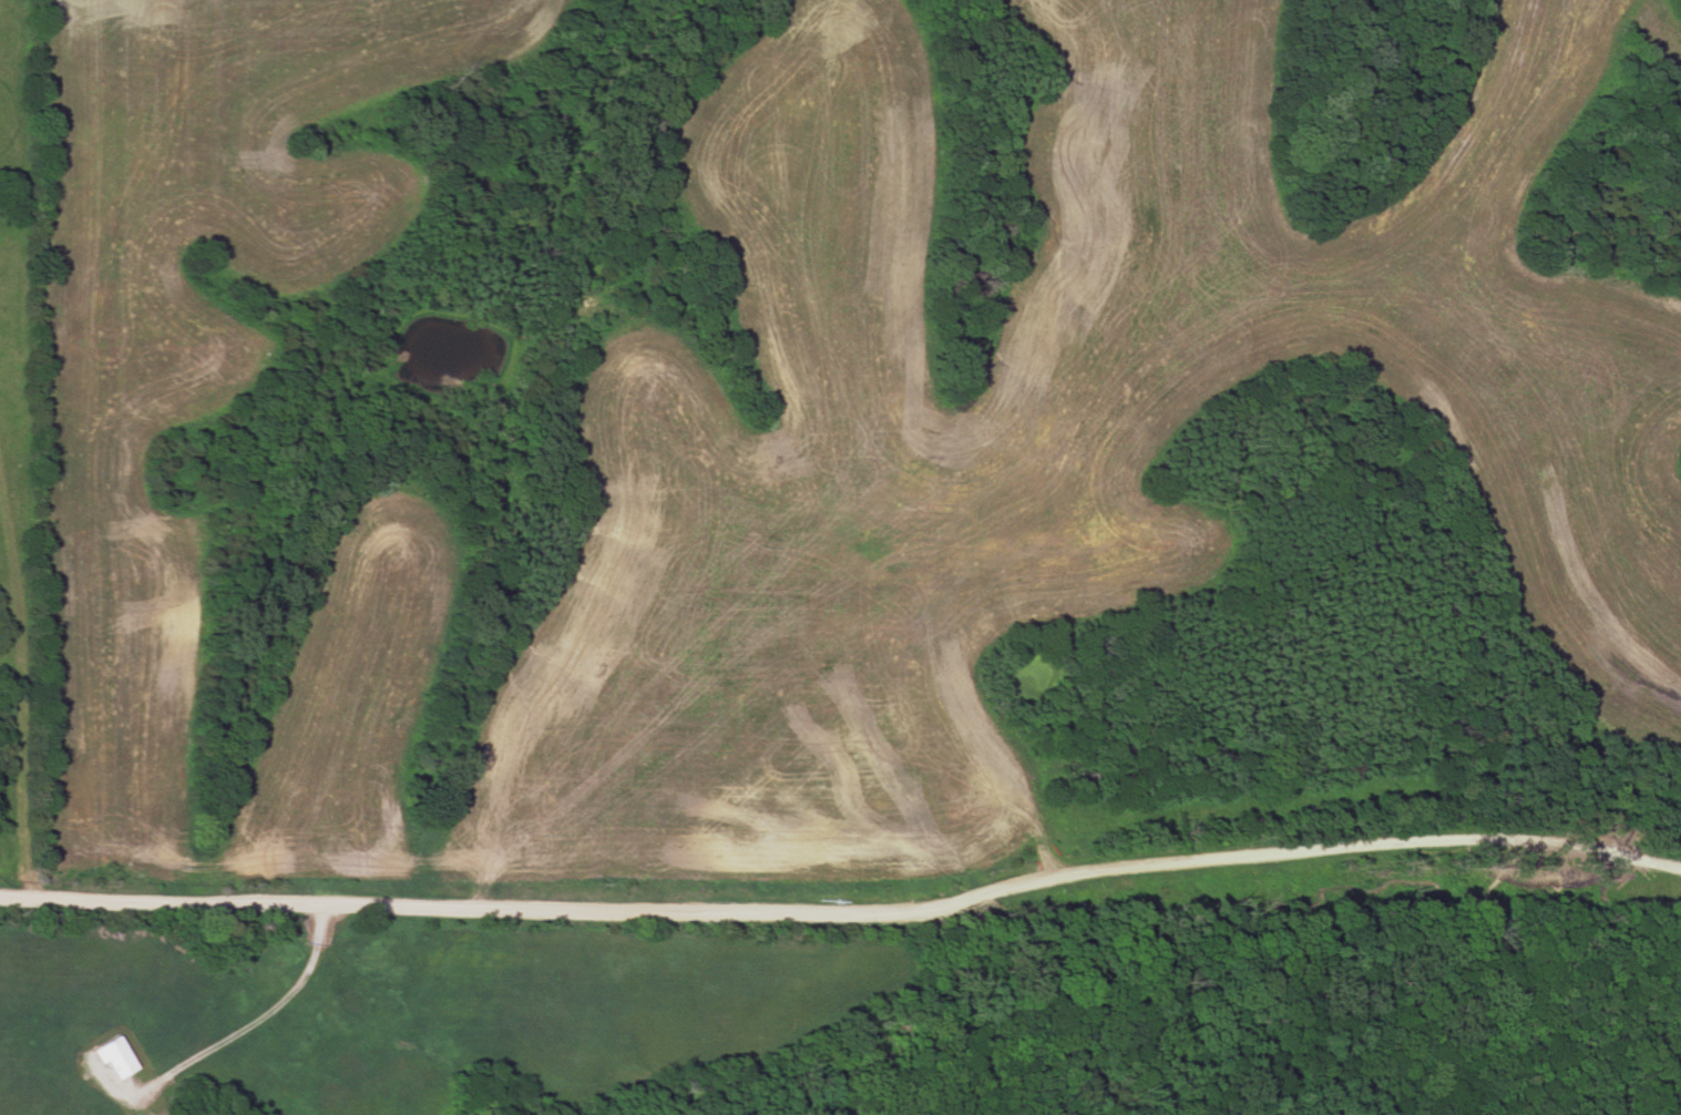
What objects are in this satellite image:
road: (1330, 847)
road: (490, 906)
building: (112, 1057)

